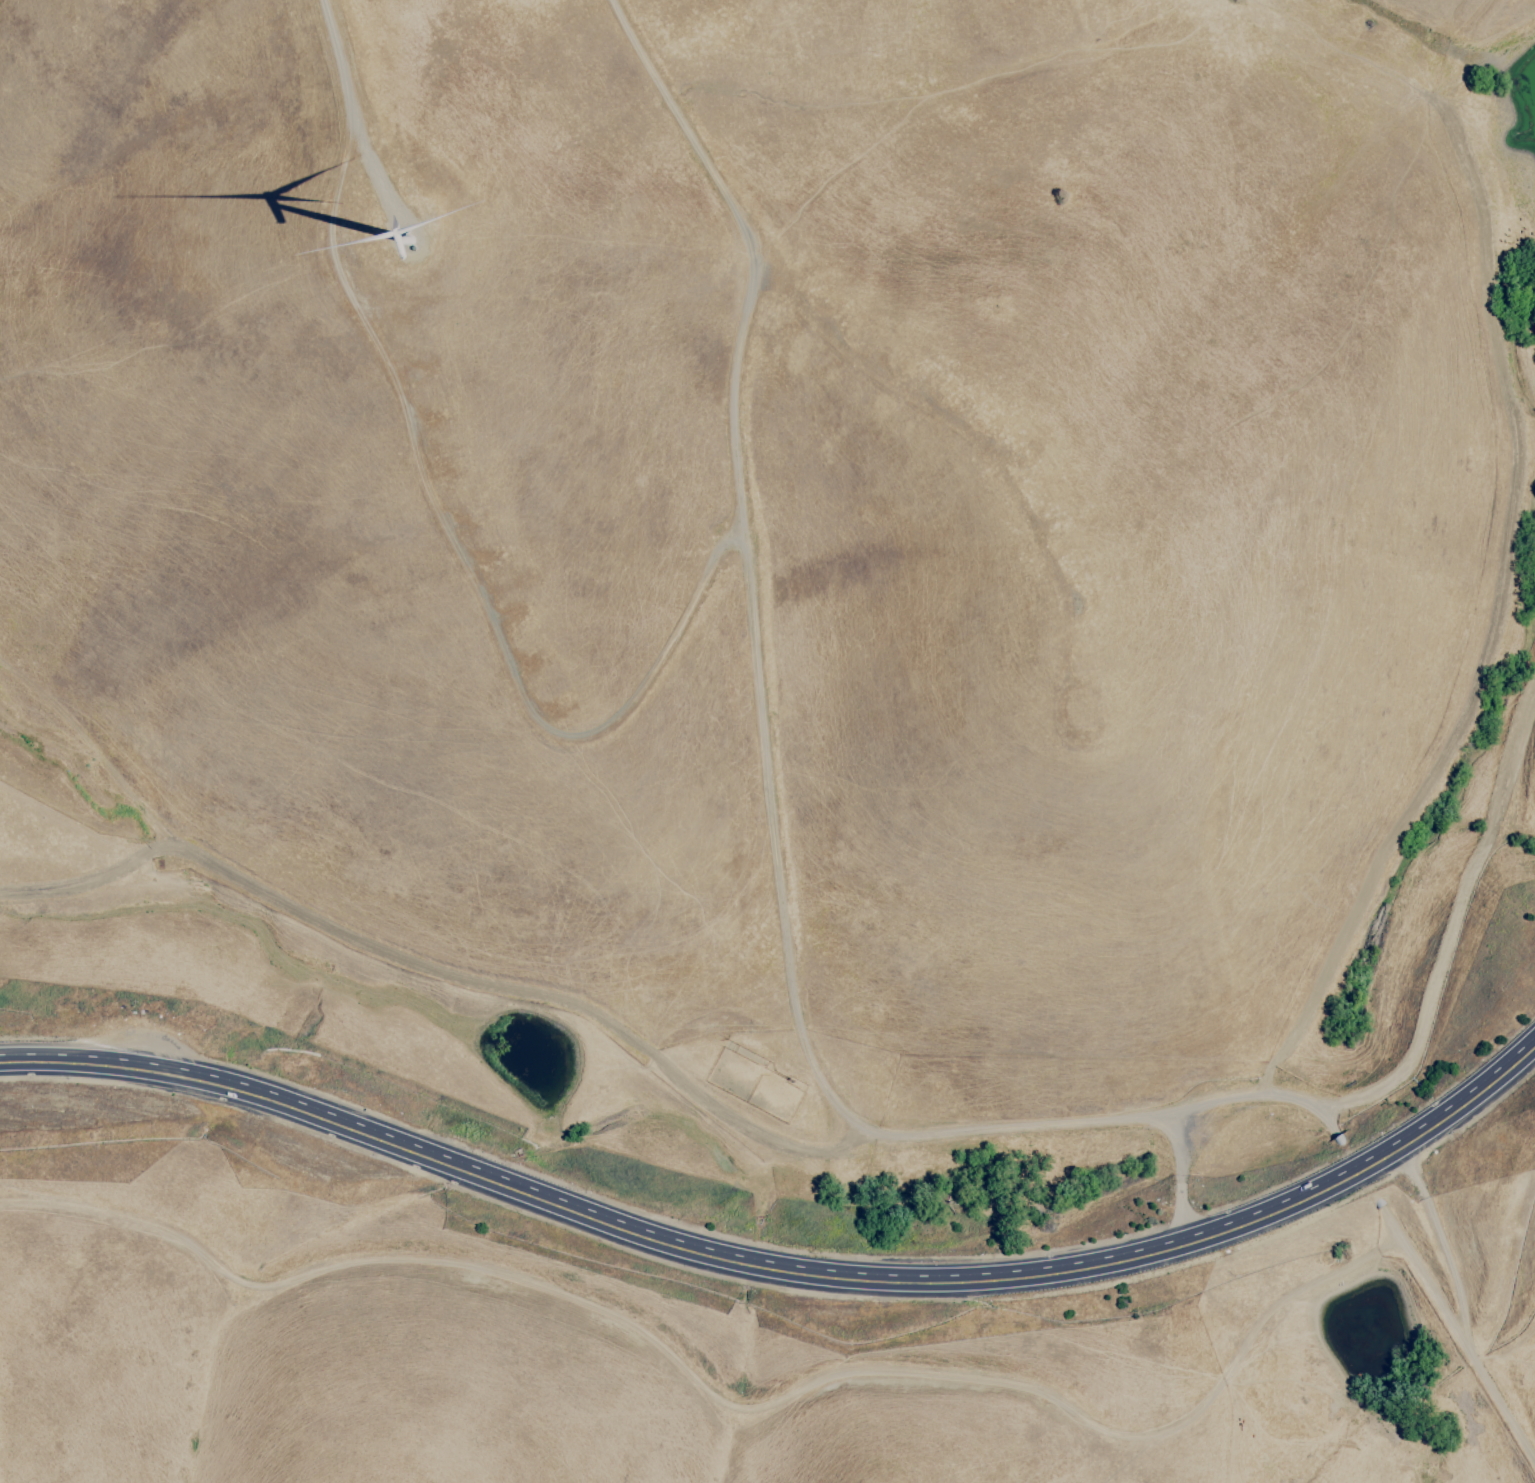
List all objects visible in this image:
road: (1472, 9)
wind turbine: (408, 236)
road: (992, 468)
road: (440, 524)
road: (763, 752)
road: (440, 981)
road: (1291, 1112)
road: (1173, 1178)
road: (1429, 1248)
road: (783, 1271)
wastewater plant: (1369, 1332)
road: (1450, 1349)
road: (710, 1400)

